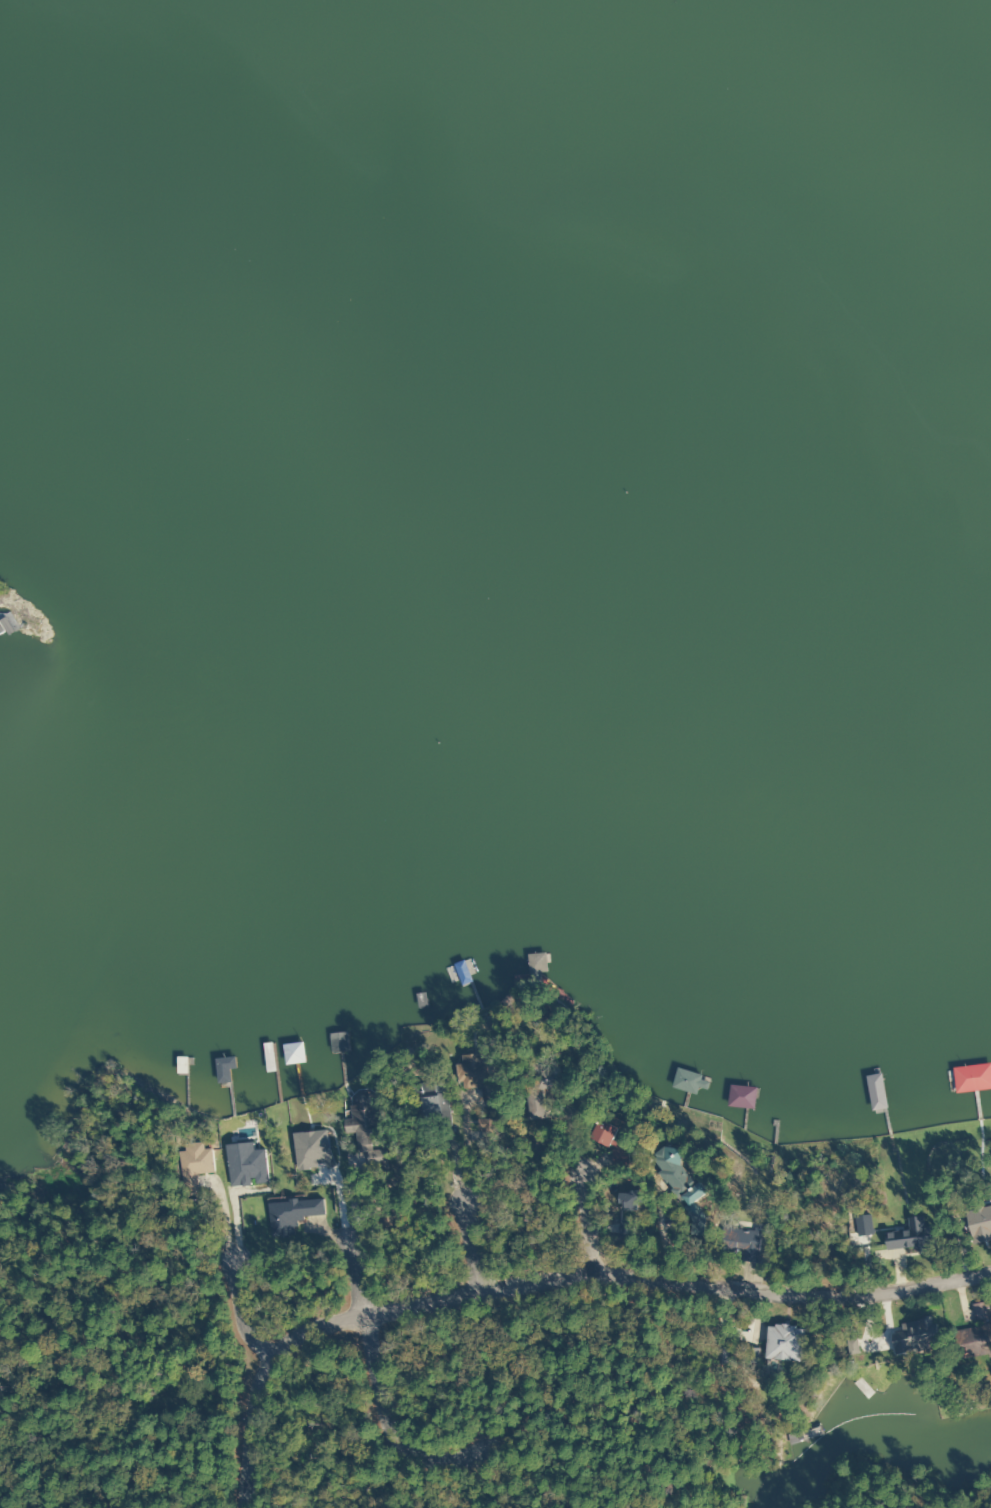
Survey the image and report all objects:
building: (3, 626)
building: (535, 963)
building: (460, 973)
building: (337, 1042)
building: (267, 1058)
building: (180, 1067)
building: (469, 1076)
building: (967, 1078)
building: (686, 1082)
building: (433, 1106)
building: (362, 1128)
building: (599, 1132)
road: (606, 1153)
building: (190, 1166)
building: (674, 1175)
road: (368, 1184)
road: (793, 1195)
building: (288, 1214)
building: (979, 1224)
building: (742, 1243)
road: (954, 1268)
road: (537, 1271)
road: (188, 1280)
building: (974, 1334)
building: (913, 1338)
building: (780, 1342)
road: (386, 1377)

